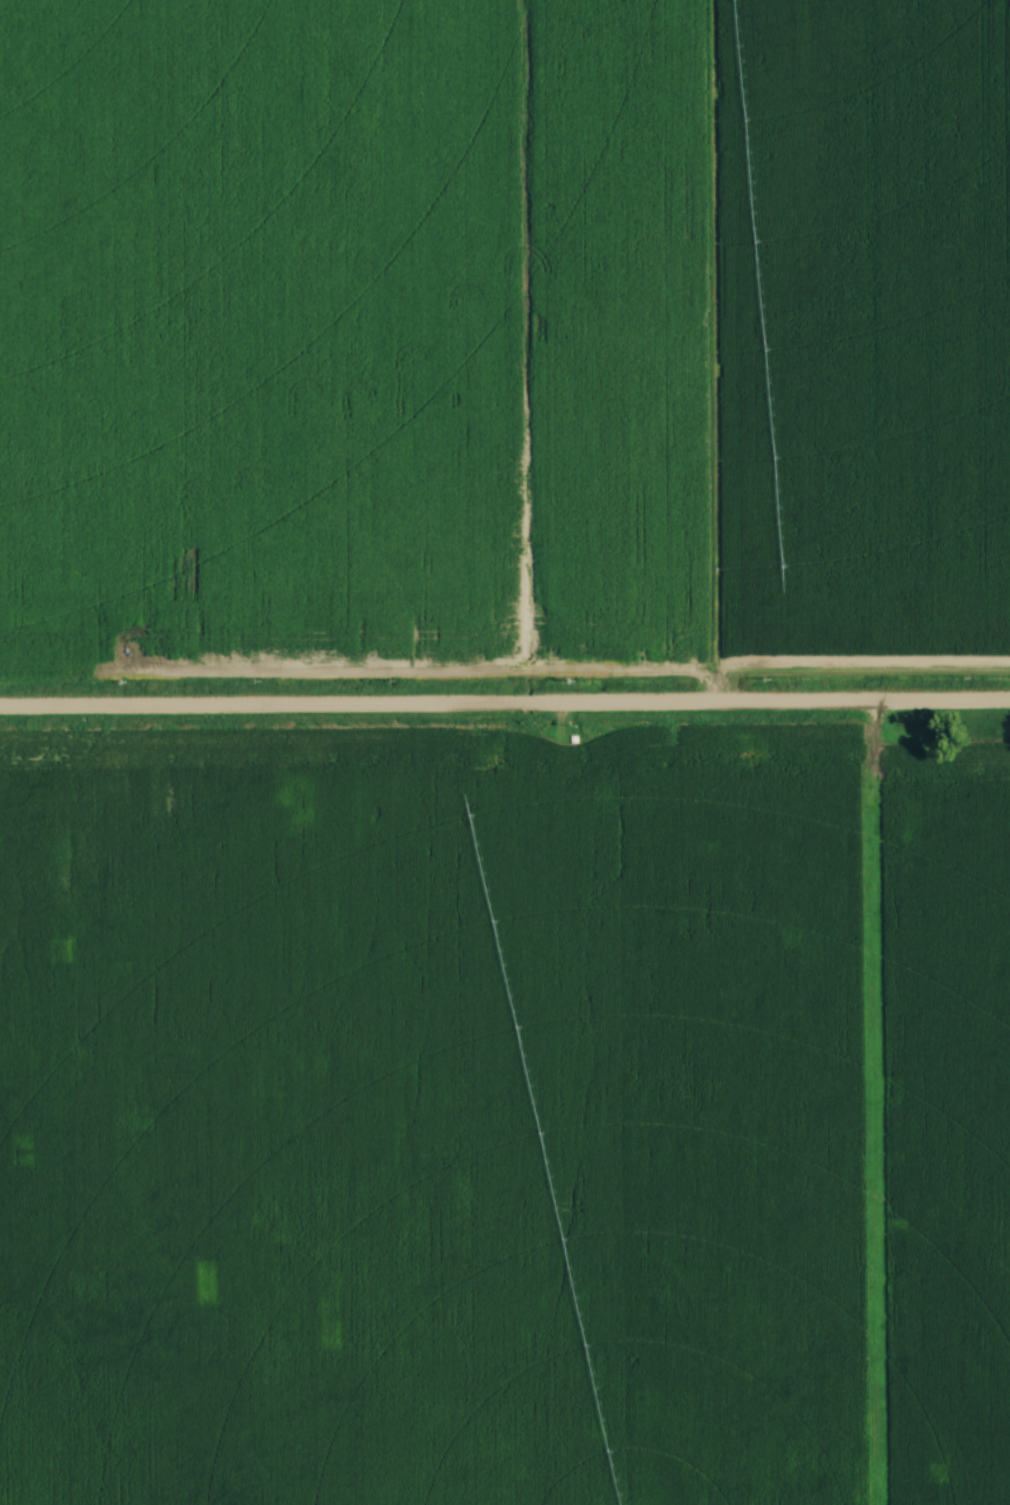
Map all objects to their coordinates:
road: (505, 710)

